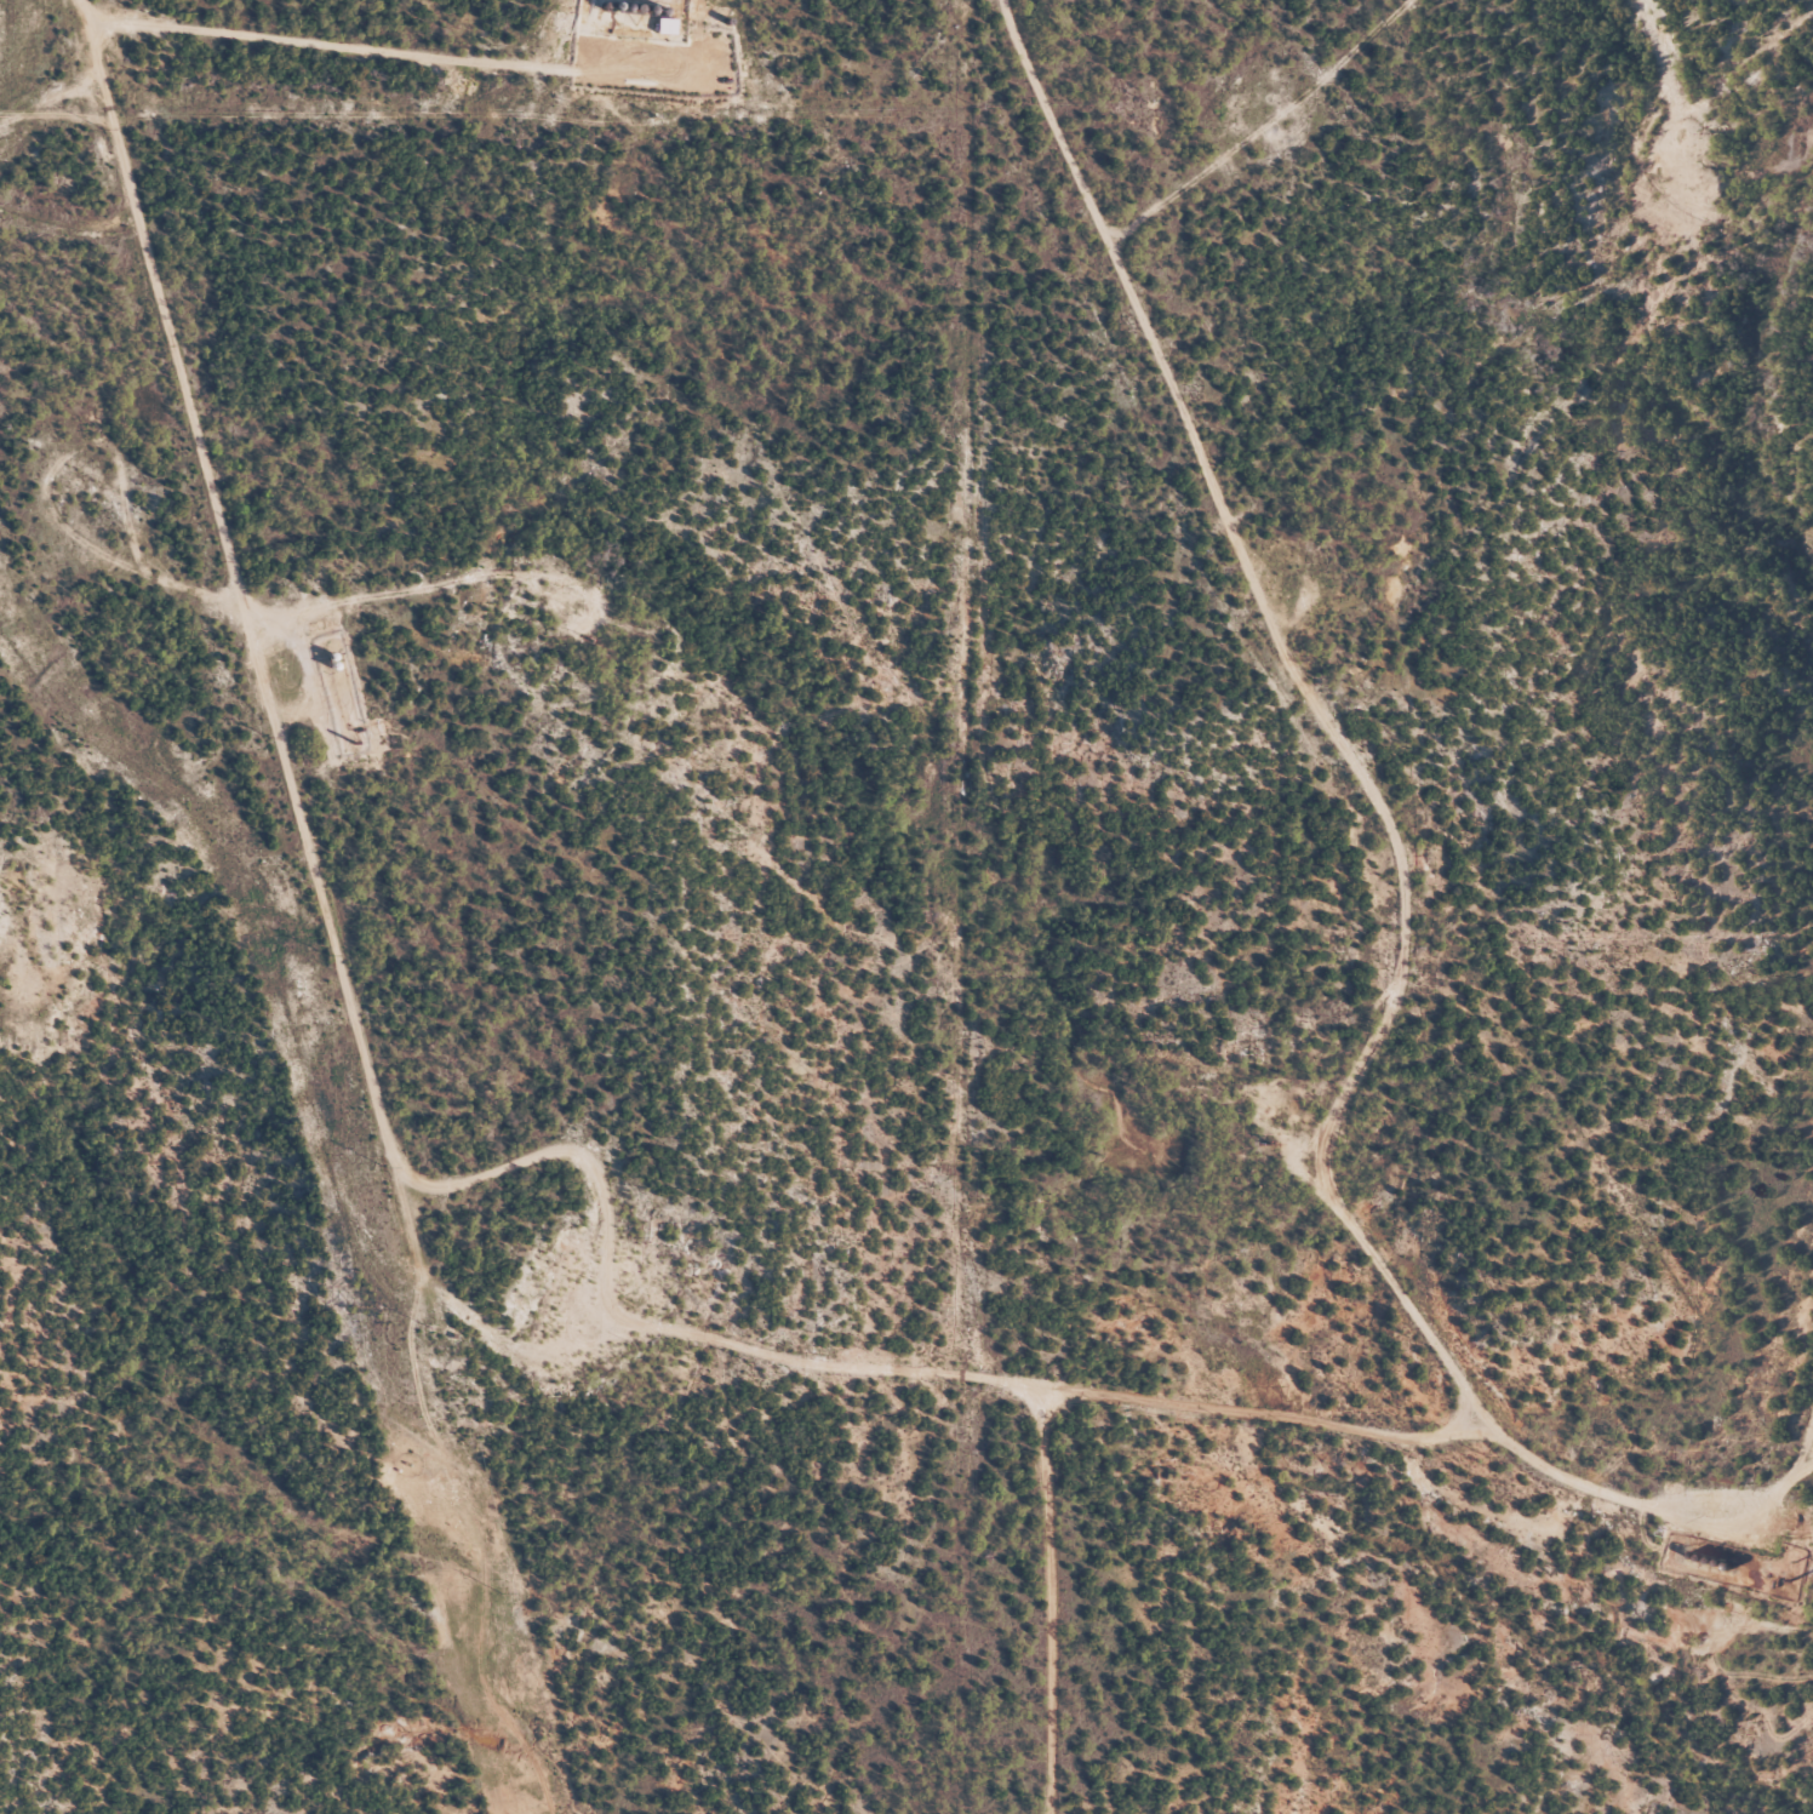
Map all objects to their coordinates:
petroleum well: (1271, 1137)

